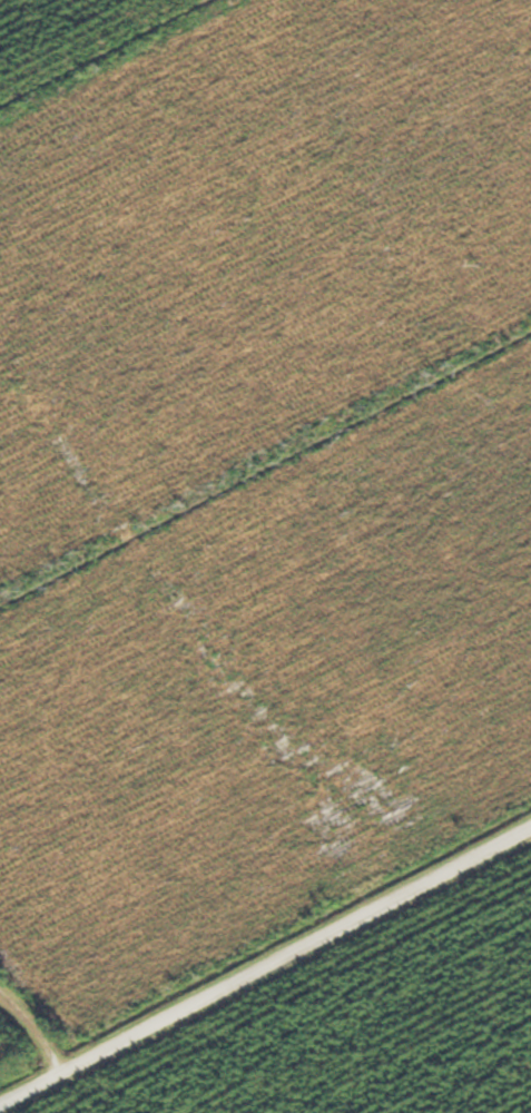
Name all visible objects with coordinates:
road: (265, 962)

